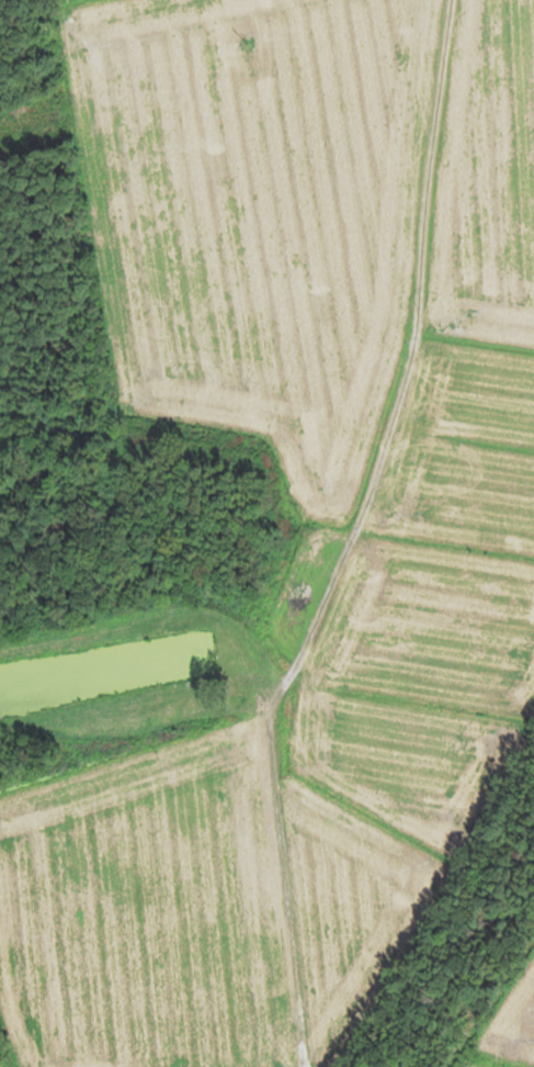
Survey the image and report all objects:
road: (59, 198)

